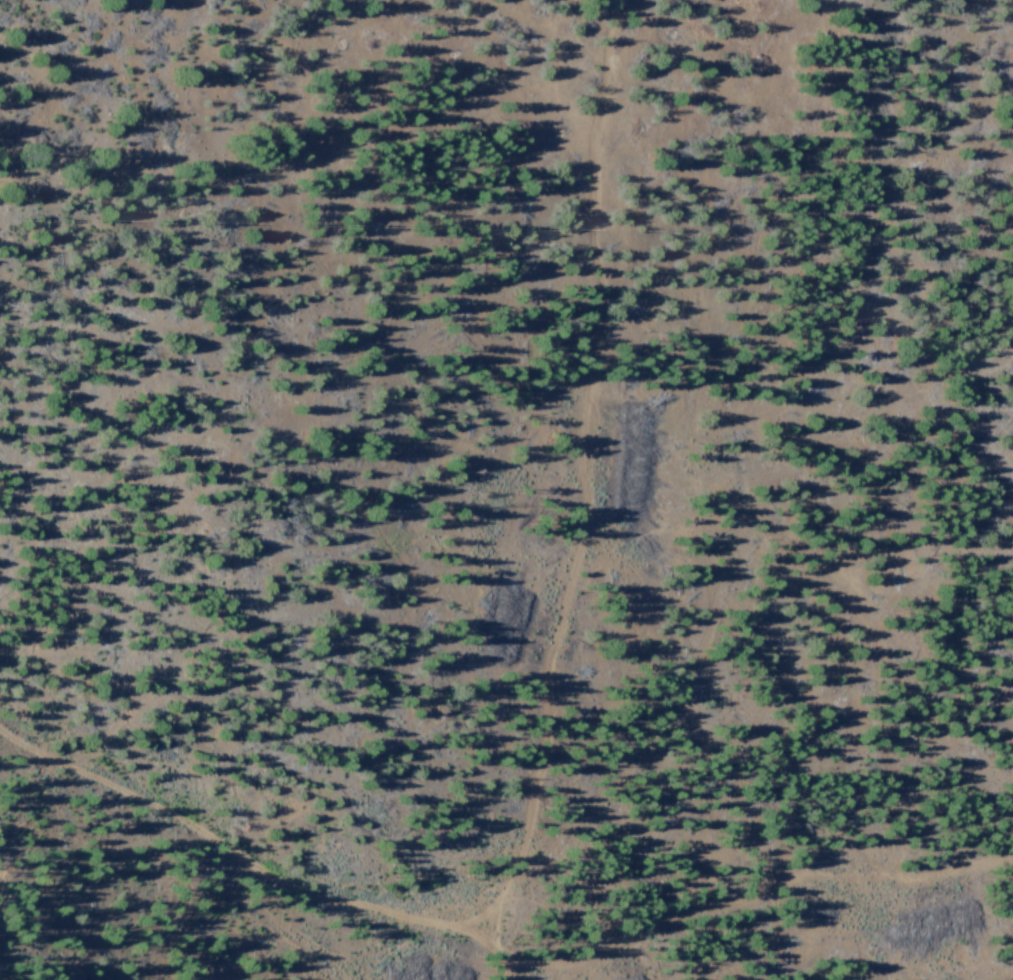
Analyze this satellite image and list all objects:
road: (225, 847)

